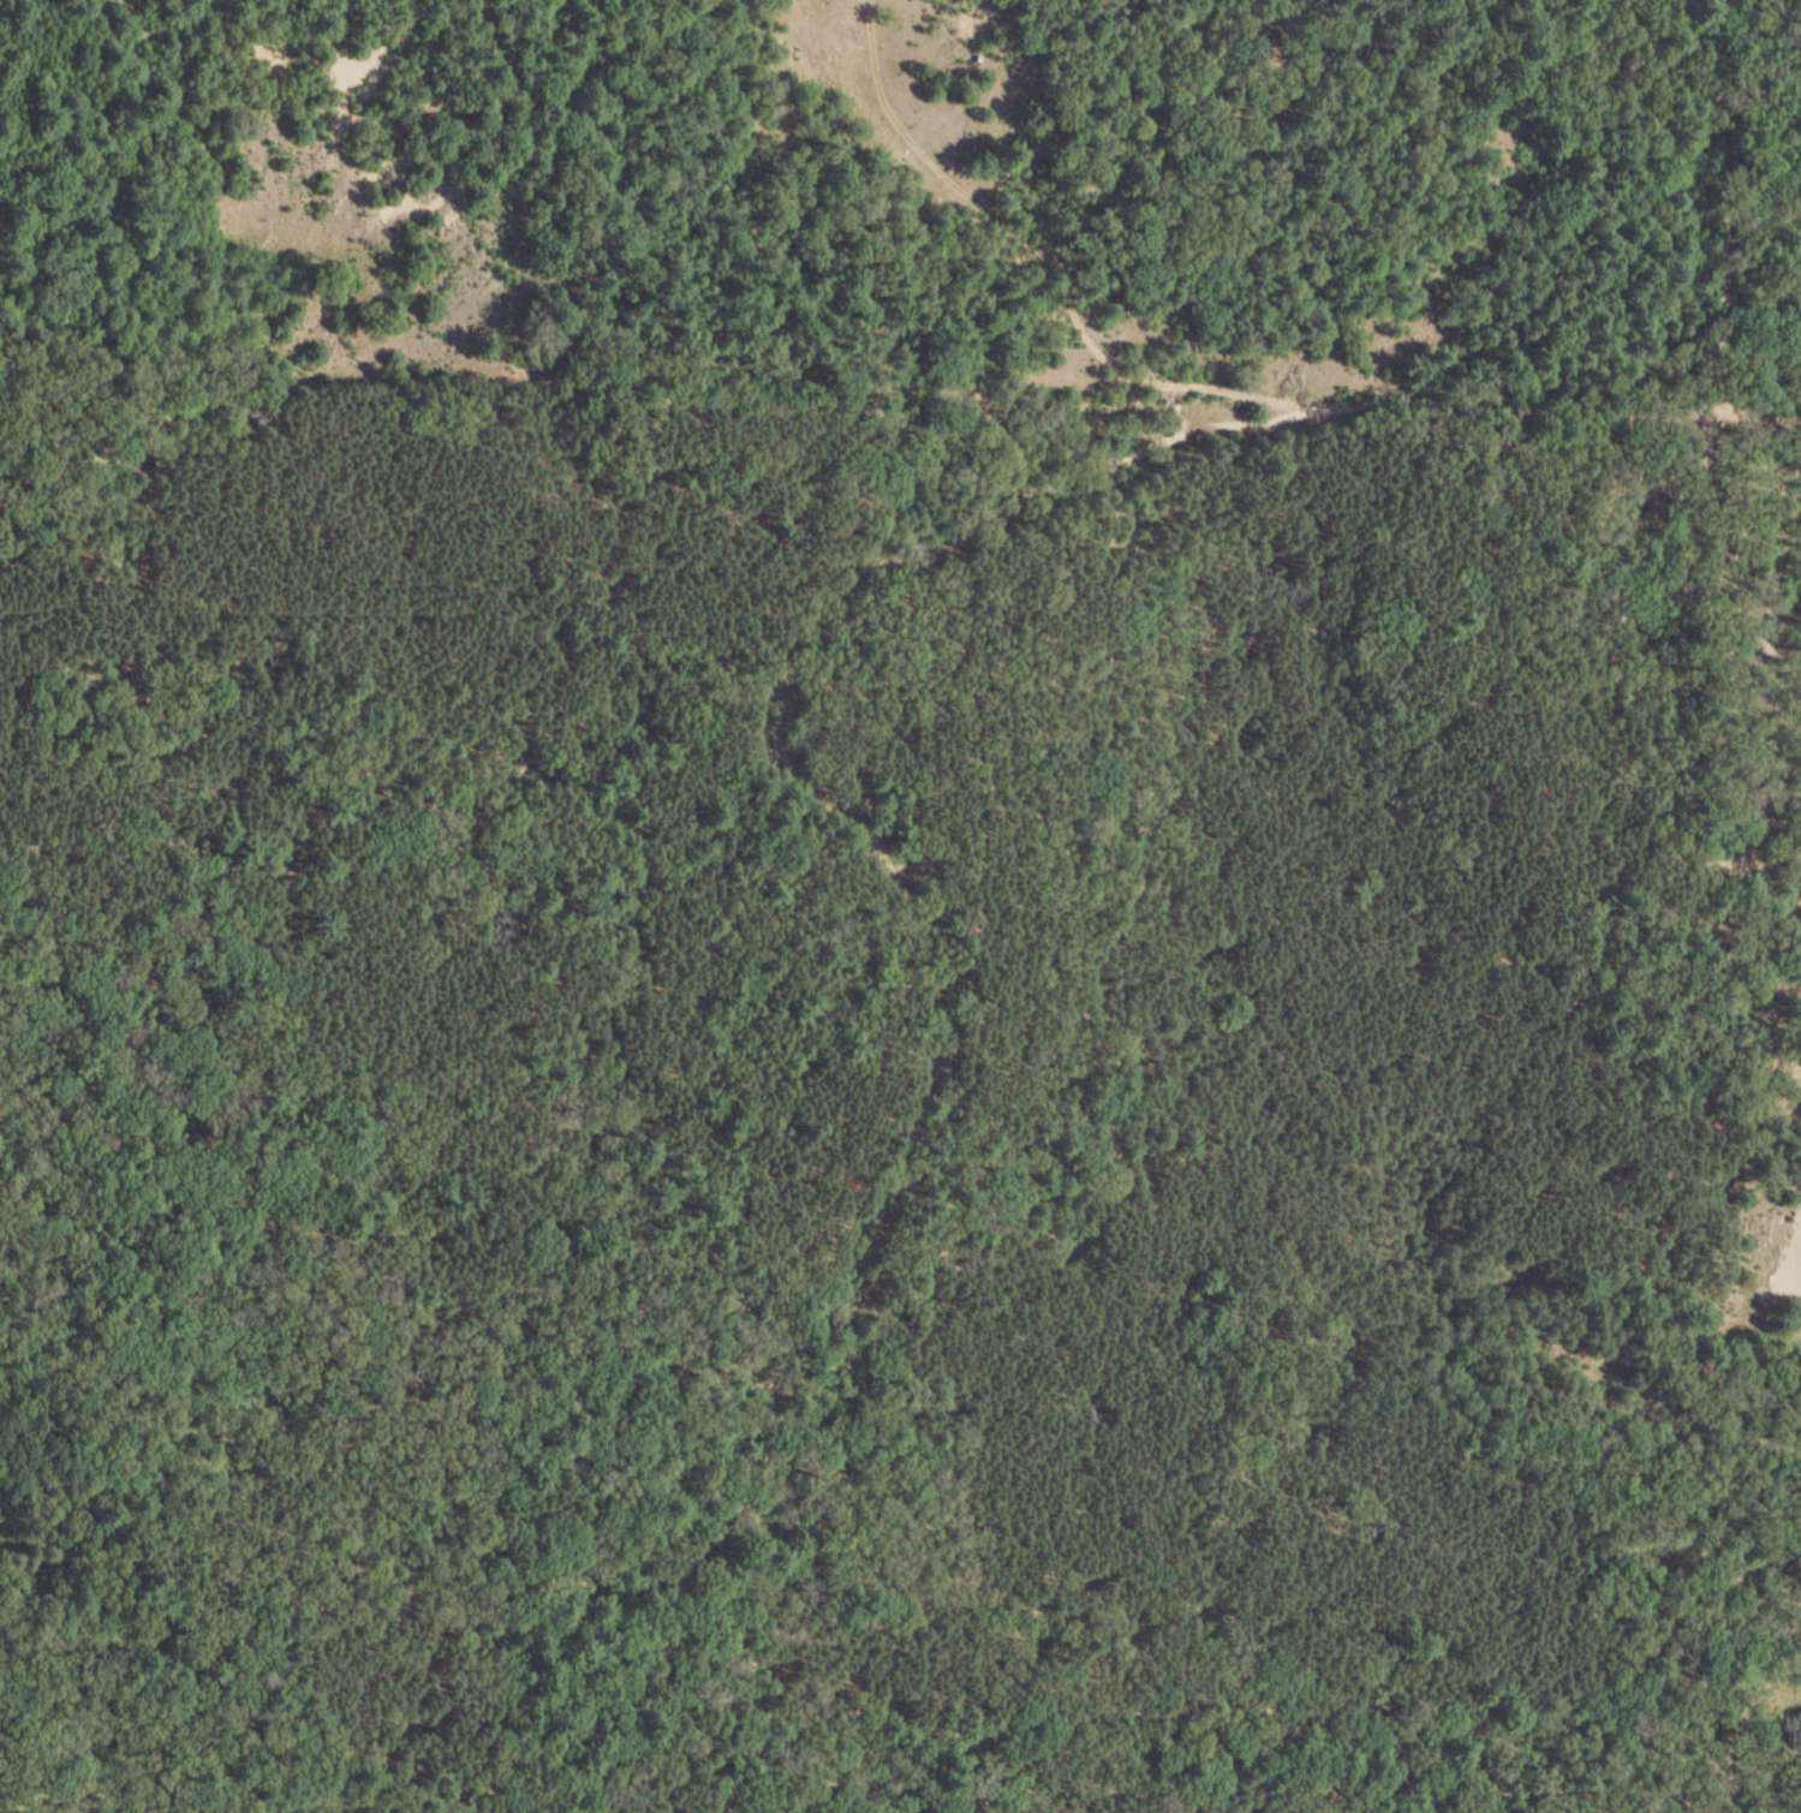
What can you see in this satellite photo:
road: (1700, 359)
road: (1749, 388)
road: (1733, 1688)

